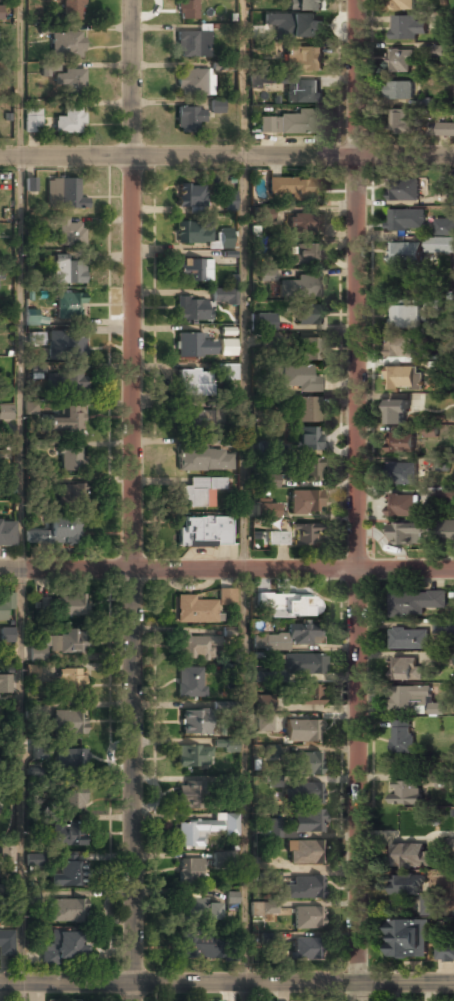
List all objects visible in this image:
building: (403, 4)
building: (304, 6)
building: (73, 10)
building: (186, 10)
building: (1, 12)
building: (293, 25)
building: (408, 25)
building: (193, 45)
building: (67, 46)
building: (441, 51)
building: (302, 59)
building: (400, 59)
building: (258, 79)
building: (68, 81)
building: (193, 82)
building: (399, 90)
building: (302, 93)
building: (216, 106)
building: (189, 119)
building: (32, 121)
building: (69, 122)
building: (399, 122)
building: (286, 124)
building: (446, 130)
road: (226, 165)
building: (29, 184)
building: (294, 189)
building: (404, 190)
building: (63, 195)
building: (191, 197)
building: (229, 201)
building: (262, 215)
building: (404, 220)
building: (305, 224)
building: (444, 227)
building: (193, 232)
building: (69, 233)
building: (227, 239)
building: (440, 246)
building: (405, 253)
building: (303, 255)
building: (68, 269)
building: (194, 271)
building: (1, 275)
building: (267, 275)
building: (299, 288)
building: (224, 296)
building: (431, 305)
building: (69, 306)
building: (190, 310)
building: (309, 316)
building: (404, 316)
building: (32, 317)
building: (265, 322)
building: (269, 341)
building: (66, 343)
building: (193, 346)
building: (227, 348)
building: (398, 348)
building: (308, 350)
building: (228, 371)
building: (400, 378)
building: (299, 379)
building: (65, 381)
building: (195, 382)
building: (31, 408)
building: (307, 409)
building: (6, 412)
building: (396, 412)
building: (67, 420)
building: (198, 421)
building: (431, 430)
building: (309, 438)
building: (401, 443)
building: (267, 447)
building: (72, 458)
building: (204, 460)
building: (441, 462)
building: (309, 468)
building: (403, 474)
building: (272, 480)
road: (19, 491)
building: (199, 492)
building: (73, 494)
building: (445, 495)
road: (134, 500)
road: (244, 500)
road: (357, 500)
building: (306, 502)
building: (401, 506)
building: (266, 510)
building: (6, 532)
building: (58, 532)
building: (204, 532)
building: (417, 532)
building: (303, 535)
building: (277, 538)
road: (226, 571)
building: (5, 603)
building: (409, 604)
building: (70, 605)
building: (289, 606)
building: (194, 610)
building: (443, 626)
building: (6, 634)
building: (291, 637)
building: (408, 640)
building: (57, 644)
building: (195, 648)
building: (304, 665)
building: (404, 669)
building: (266, 676)
building: (70, 681)
building: (189, 683)
building: (4, 684)
building: (309, 696)
building: (408, 697)
building: (436, 708)
building: (194, 721)
building: (68, 722)
building: (264, 724)
building: (303, 731)
building: (402, 737)
building: (231, 746)
building: (38, 751)
building: (272, 751)
building: (193, 756)
building: (71, 758)
building: (307, 764)
building: (275, 781)
building: (445, 781)
building: (304, 793)
building: (406, 793)
building: (190, 797)
building: (72, 798)
building: (307, 821)
building: (230, 828)
building: (196, 832)
building: (67, 834)
building: (450, 846)
building: (304, 853)
building: (411, 856)
building: (220, 860)
building: (68, 871)
building: (190, 871)
building: (272, 878)
building: (407, 884)
building: (304, 889)
building: (231, 898)
building: (429, 905)
building: (200, 908)
building: (269, 908)
building: (66, 910)
building: (308, 919)
building: (408, 937)
building: (267, 938)
building: (6, 943)
building: (199, 945)
building: (64, 948)
building: (304, 950)
building: (445, 952)
road: (227, 983)
road: (20, 992)

